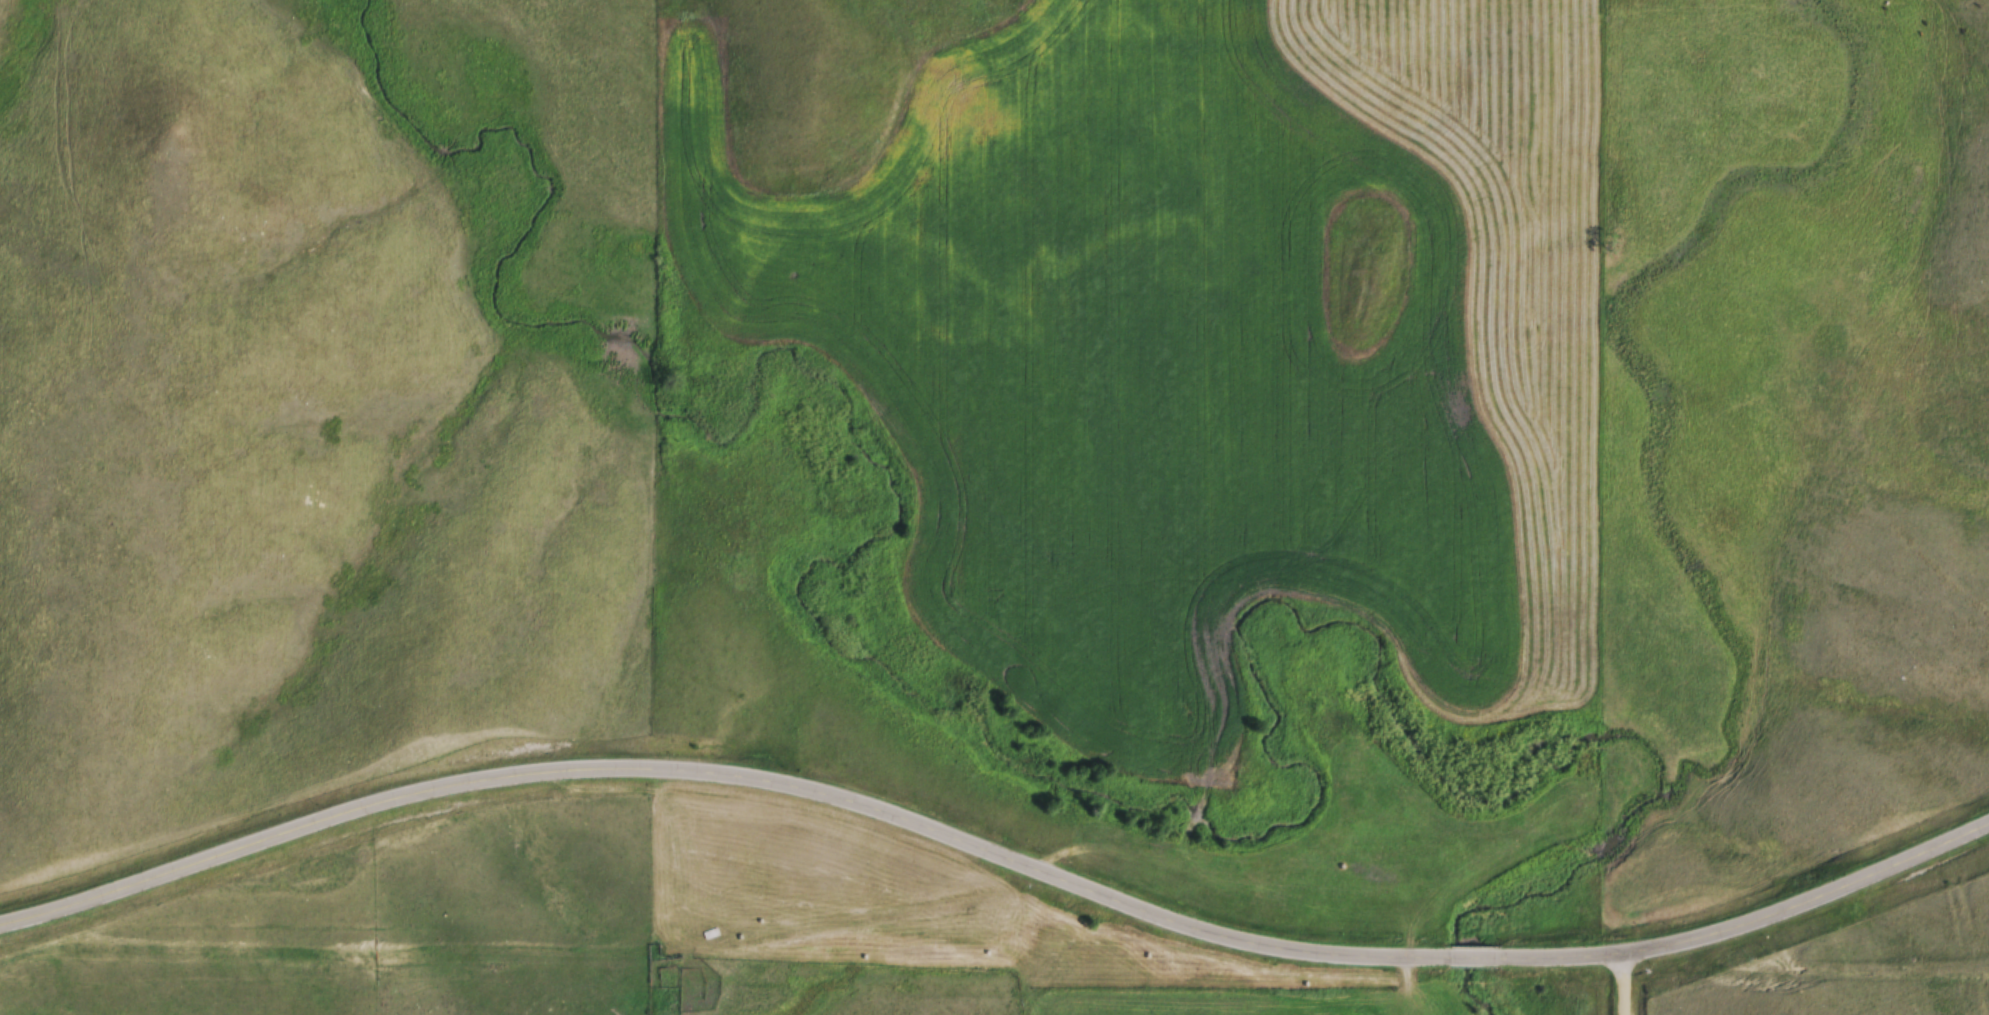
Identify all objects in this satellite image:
road: (816, 798)
road: (1815, 906)
road: (1632, 987)

